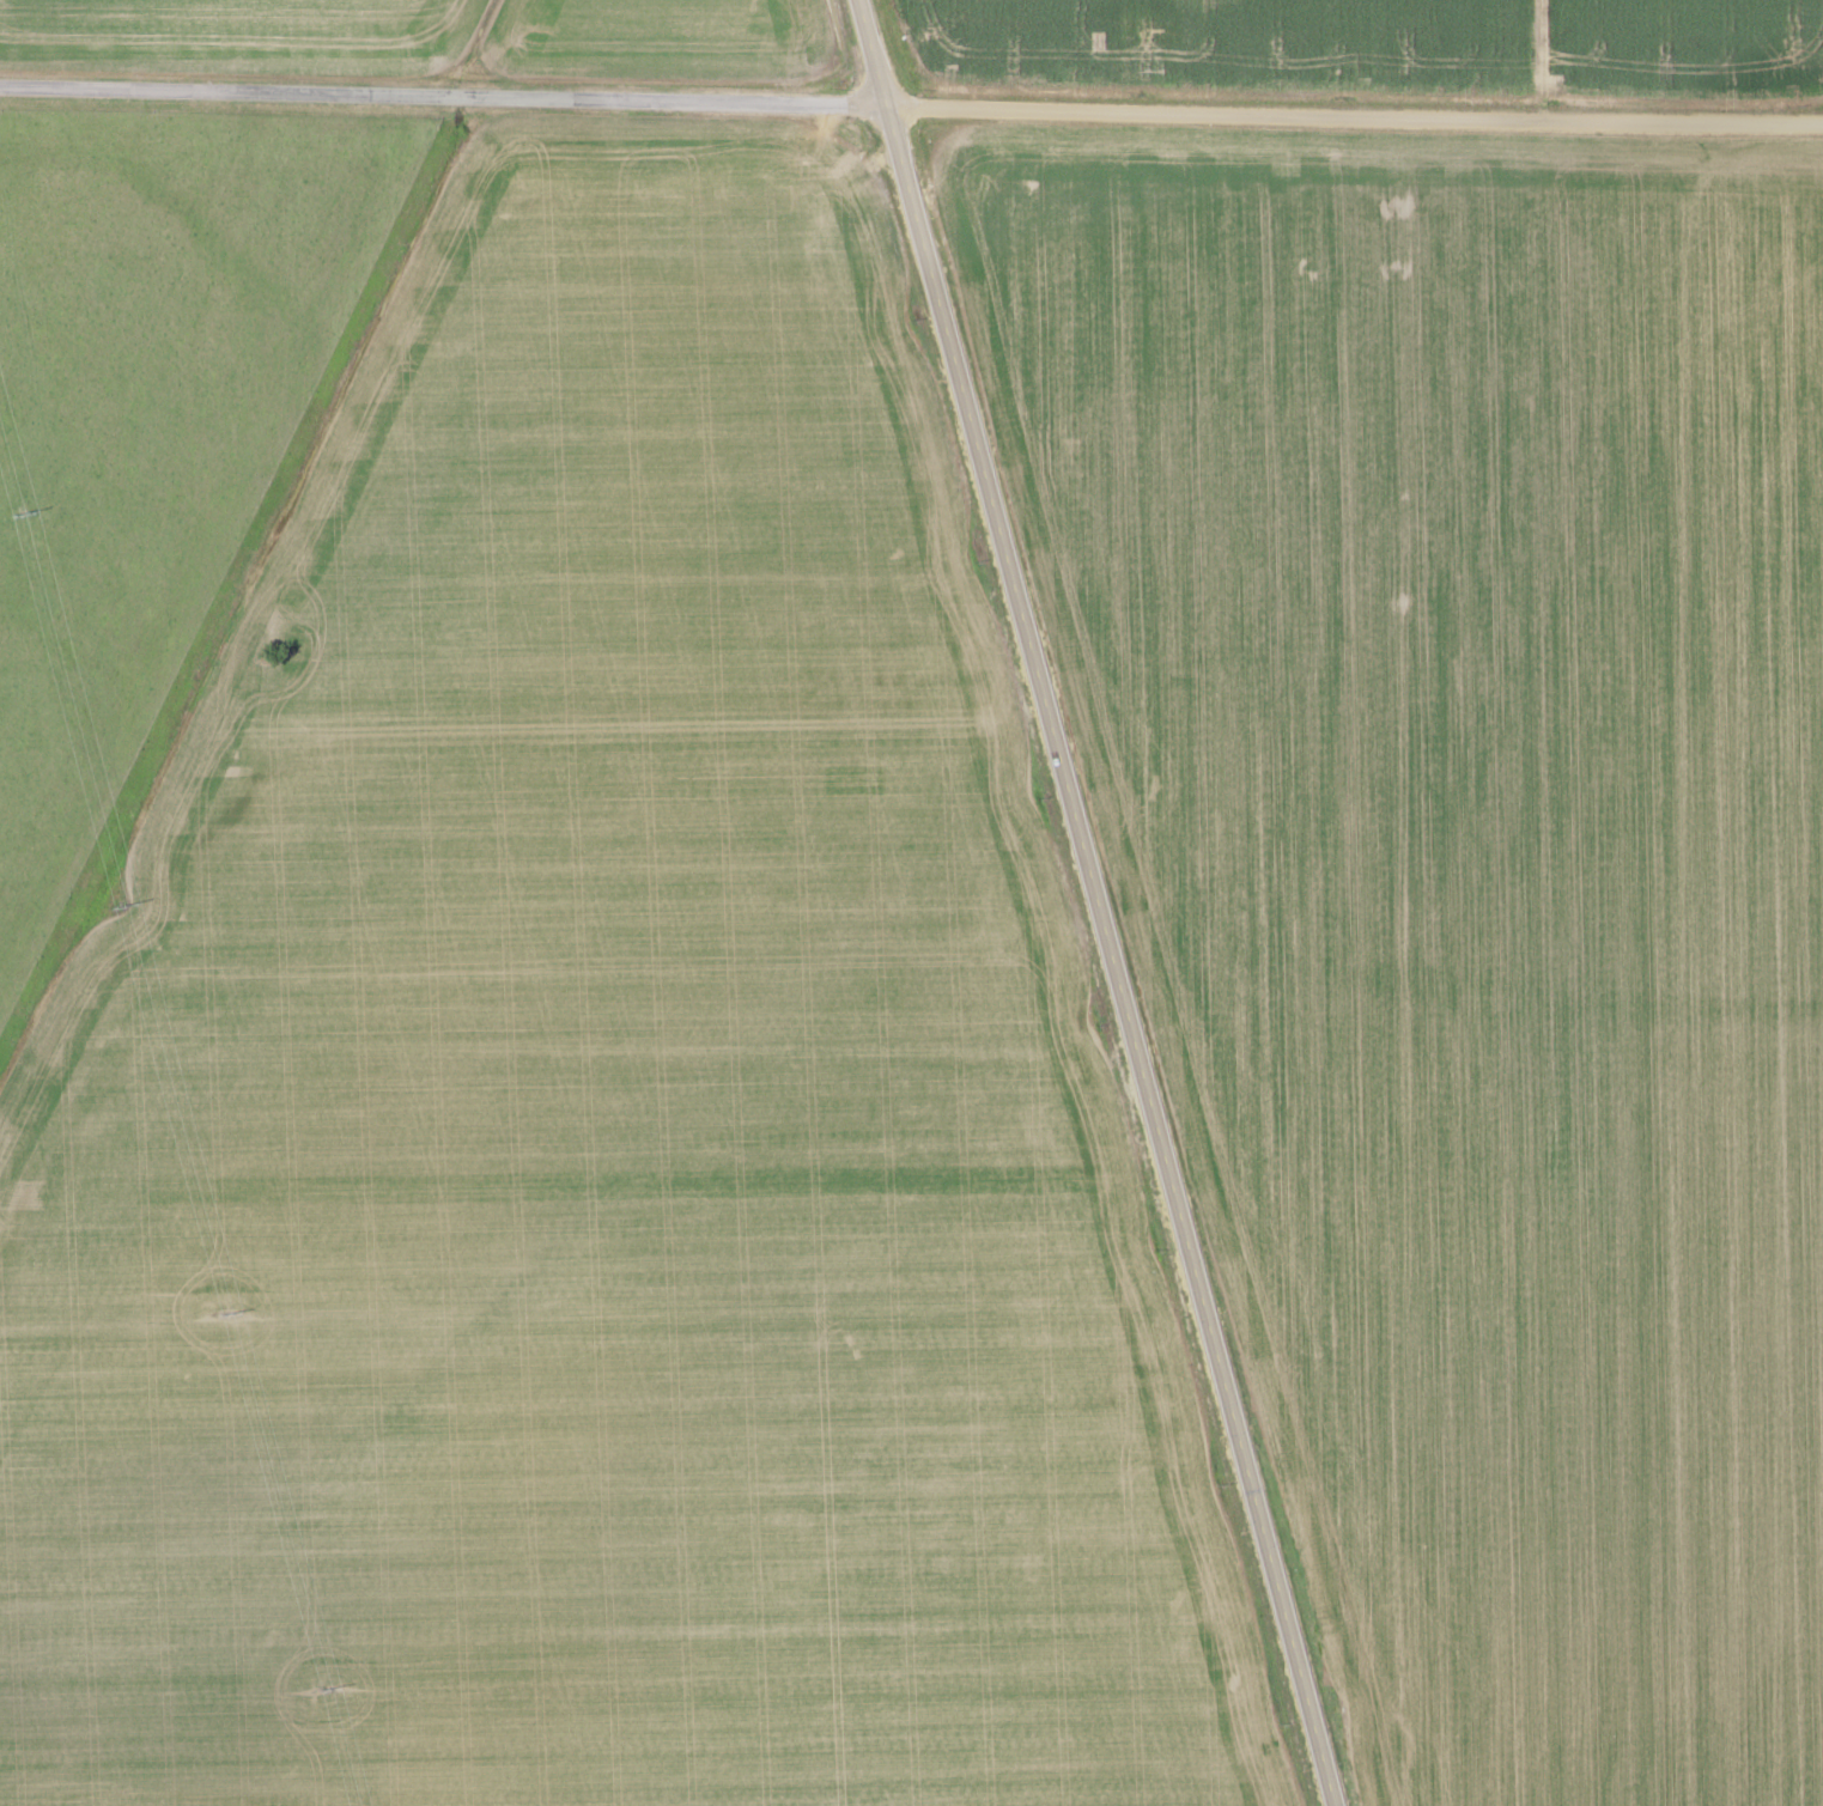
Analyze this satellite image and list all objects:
road: (443, 93)
road: (1354, 111)
power tower: (16, 513)
road: (1098, 901)
power tower: (117, 905)
power tower: (223, 1314)
power tower: (321, 1691)

